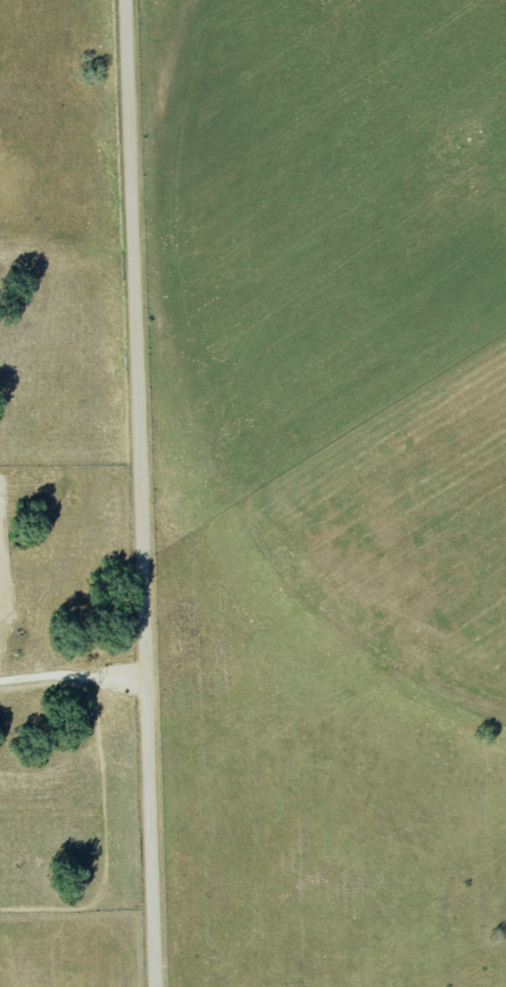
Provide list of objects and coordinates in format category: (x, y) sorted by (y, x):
road: (146, 493)
road: (76, 676)

